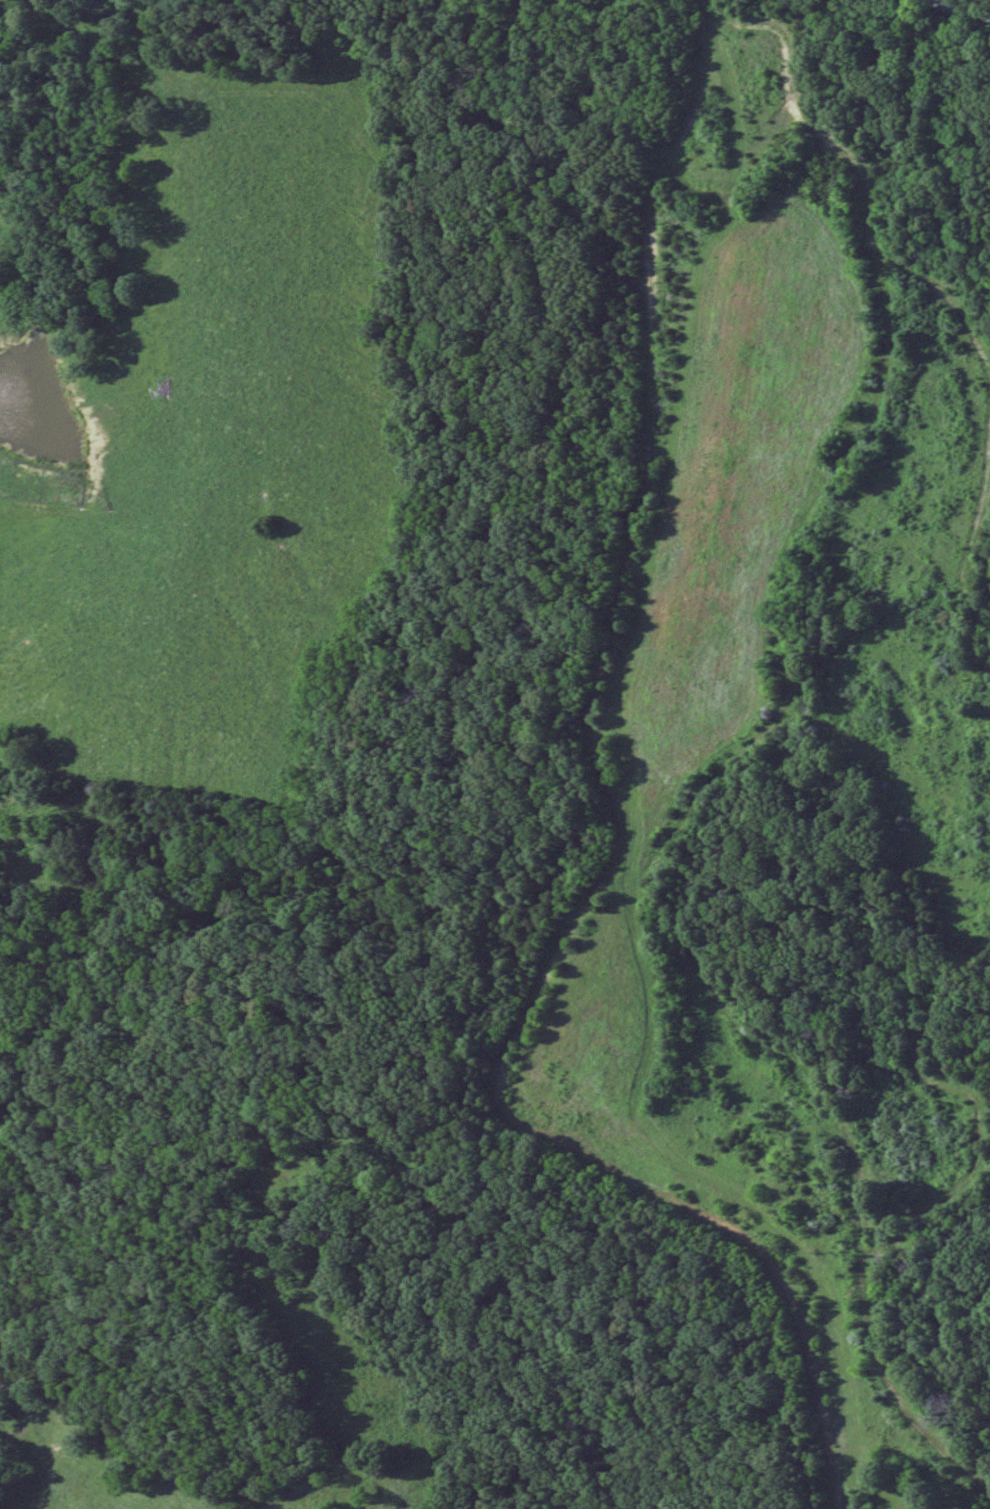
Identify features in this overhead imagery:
road: (956, 10)

